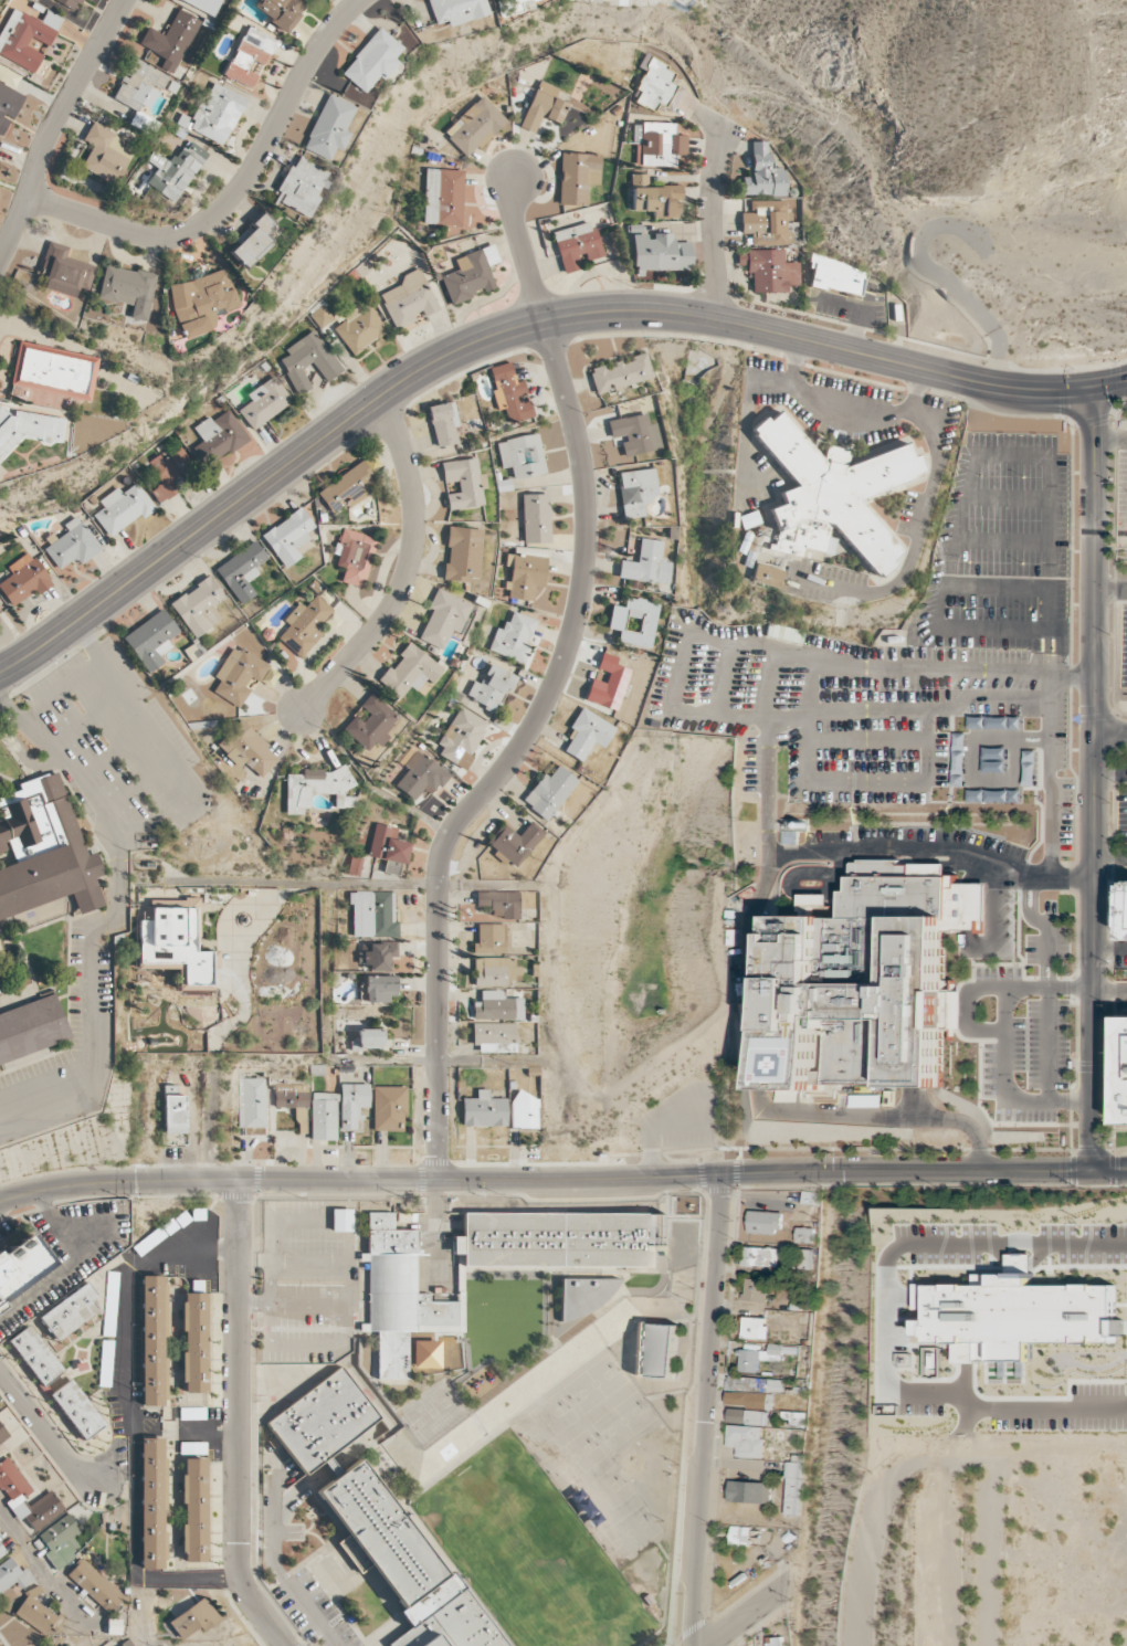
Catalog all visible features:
building: (678, 0)
building: (70, 3)
building: (206, 4)
building: (512, 7)
building: (456, 10)
building: (27, 36)
building: (170, 40)
building: (249, 56)
building: (372, 61)
building: (8, 76)
building: (139, 85)
building: (656, 85)
building: (8, 105)
building: (543, 107)
building: (217, 114)
road: (54, 126)
building: (476, 126)
building: (329, 127)
building: (657, 144)
building: (105, 154)
building: (175, 170)
building: (763, 173)
building: (577, 177)
building: (302, 186)
road: (236, 192)
building: (444, 196)
building: (654, 198)
road: (712, 222)
building: (768, 223)
building: (253, 241)
building: (576, 244)
building: (661, 253)
building: (769, 270)
building: (63, 271)
building: (471, 274)
building: (836, 275)
building: (128, 288)
building: (409, 298)
building: (201, 302)
building: (359, 329)
road: (516, 329)
building: (308, 361)
building: (621, 373)
traffic signals: (1095, 387)
road: (914, 392)
building: (509, 393)
building: (264, 402)
building: (443, 423)
building: (28, 429)
building: (634, 434)
building: (218, 436)
building: (523, 455)
road: (934, 457)
building: (169, 473)
building: (464, 483)
building: (347, 487)
building: (836, 489)
building: (636, 492)
building: (123, 508)
building: (536, 518)
building: (288, 537)
building: (72, 544)
building: (463, 553)
building: (354, 556)
road: (1096, 558)
building: (646, 563)
road: (408, 569)
building: (241, 570)
building: (525, 574)
building: (767, 576)
building: (23, 580)
road: (1112, 589)
building: (199, 606)
building: (442, 619)
building: (634, 621)
building: (304, 626)
building: (513, 637)
building: (151, 640)
building: (410, 671)
building: (241, 676)
building: (608, 684)
building: (492, 687)
road: (551, 689)
road: (63, 692)
road: (89, 719)
parking lot: (882, 721)
building: (994, 721)
building: (371, 724)
road: (1110, 730)
building: (461, 735)
building: (587, 735)
road: (165, 742)
building: (247, 749)
road: (116, 750)
road: (23, 755)
building: (959, 759)
building: (994, 759)
road: (1110, 773)
building: (421, 775)
building: (1030, 779)
road: (139, 782)
building: (316, 788)
building: (549, 792)
road: (767, 841)
building: (515, 842)
building: (388, 847)
building: (44, 850)
road: (819, 852)
road: (966, 853)
road: (1110, 859)
road: (351, 884)
building: (187, 903)
building: (499, 904)
road: (805, 905)
building: (373, 915)
road: (116, 920)
building: (491, 938)
building: (175, 947)
road: (1093, 950)
building: (377, 956)
building: (494, 971)
building: (872, 979)
building: (380, 988)
road: (1109, 989)
building: (497, 1006)
road: (970, 1007)
building: (30, 1027)
building: (495, 1037)
building: (368, 1038)
road: (1007, 1043)
road: (1049, 1044)
road: (434, 1059)
helipad: (800, 1062)
building: (1125, 1074)
building: (293, 1100)
building: (252, 1102)
building: (352, 1104)
building: (389, 1108)
building: (175, 1110)
building: (484, 1110)
building: (524, 1111)
building: (324, 1116)
road: (213, 1118)
road: (1109, 1171)
road: (545, 1179)
building: (341, 1220)
building: (765, 1221)
road: (1084, 1230)
building: (803, 1235)
building: (759, 1256)
building: (804, 1258)
road: (73, 1263)
building: (21, 1265)
building: (982, 1278)
road: (130, 1288)
building: (754, 1289)
building: (583, 1296)
building: (415, 1299)
building: (70, 1311)
building: (1014, 1316)
building: (755, 1327)
building: (152, 1341)
building: (194, 1342)
building: (661, 1349)
building: (425, 1354)
building: (35, 1355)
building: (759, 1355)
building: (755, 1384)
building: (750, 1399)
road: (705, 1408)
building: (76, 1410)
building: (746, 1415)
building: (797, 1418)
road: (239, 1421)
road: (46, 1433)
building: (2, 1434)
road: (209, 1435)
building: (746, 1439)
road: (116, 1449)
building: (791, 1488)
building: (748, 1491)
building: (13, 1495)
building: (152, 1503)
building: (194, 1510)
building: (379, 1519)
building: (0, 1533)
building: (739, 1536)
building: (60, 1540)
building: (1, 1551)
road: (137, 1551)
park: (529, 1553)
road: (998, 1553)
road: (275, 1560)
building: (13, 1575)
road: (51, 1581)
building: (95, 1585)
building: (34, 1612)
road: (742, 1616)
building: (193, 1618)
building: (127, 1644)
building: (67, 1645)

